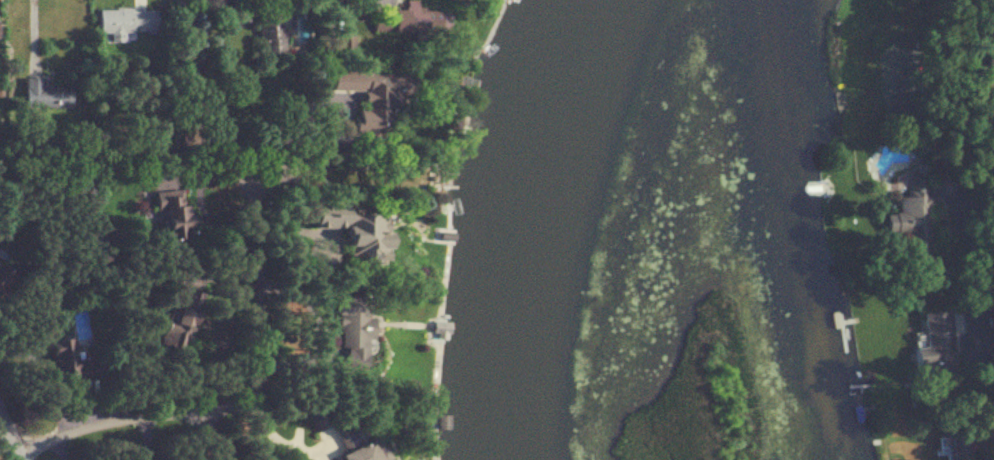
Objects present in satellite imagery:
road: (386, 0)
building: (391, 21)
building: (124, 22)
building: (272, 26)
building: (343, 44)
building: (44, 94)
building: (371, 95)
road: (210, 110)
building: (919, 209)
building: (171, 214)
river: (553, 225)
building: (352, 227)
road: (977, 253)
road: (24, 311)
building: (181, 315)
building: (351, 329)
building: (935, 337)
road: (243, 354)
building: (61, 356)
road: (215, 435)
road: (264, 438)
building: (346, 439)
road: (11, 440)

